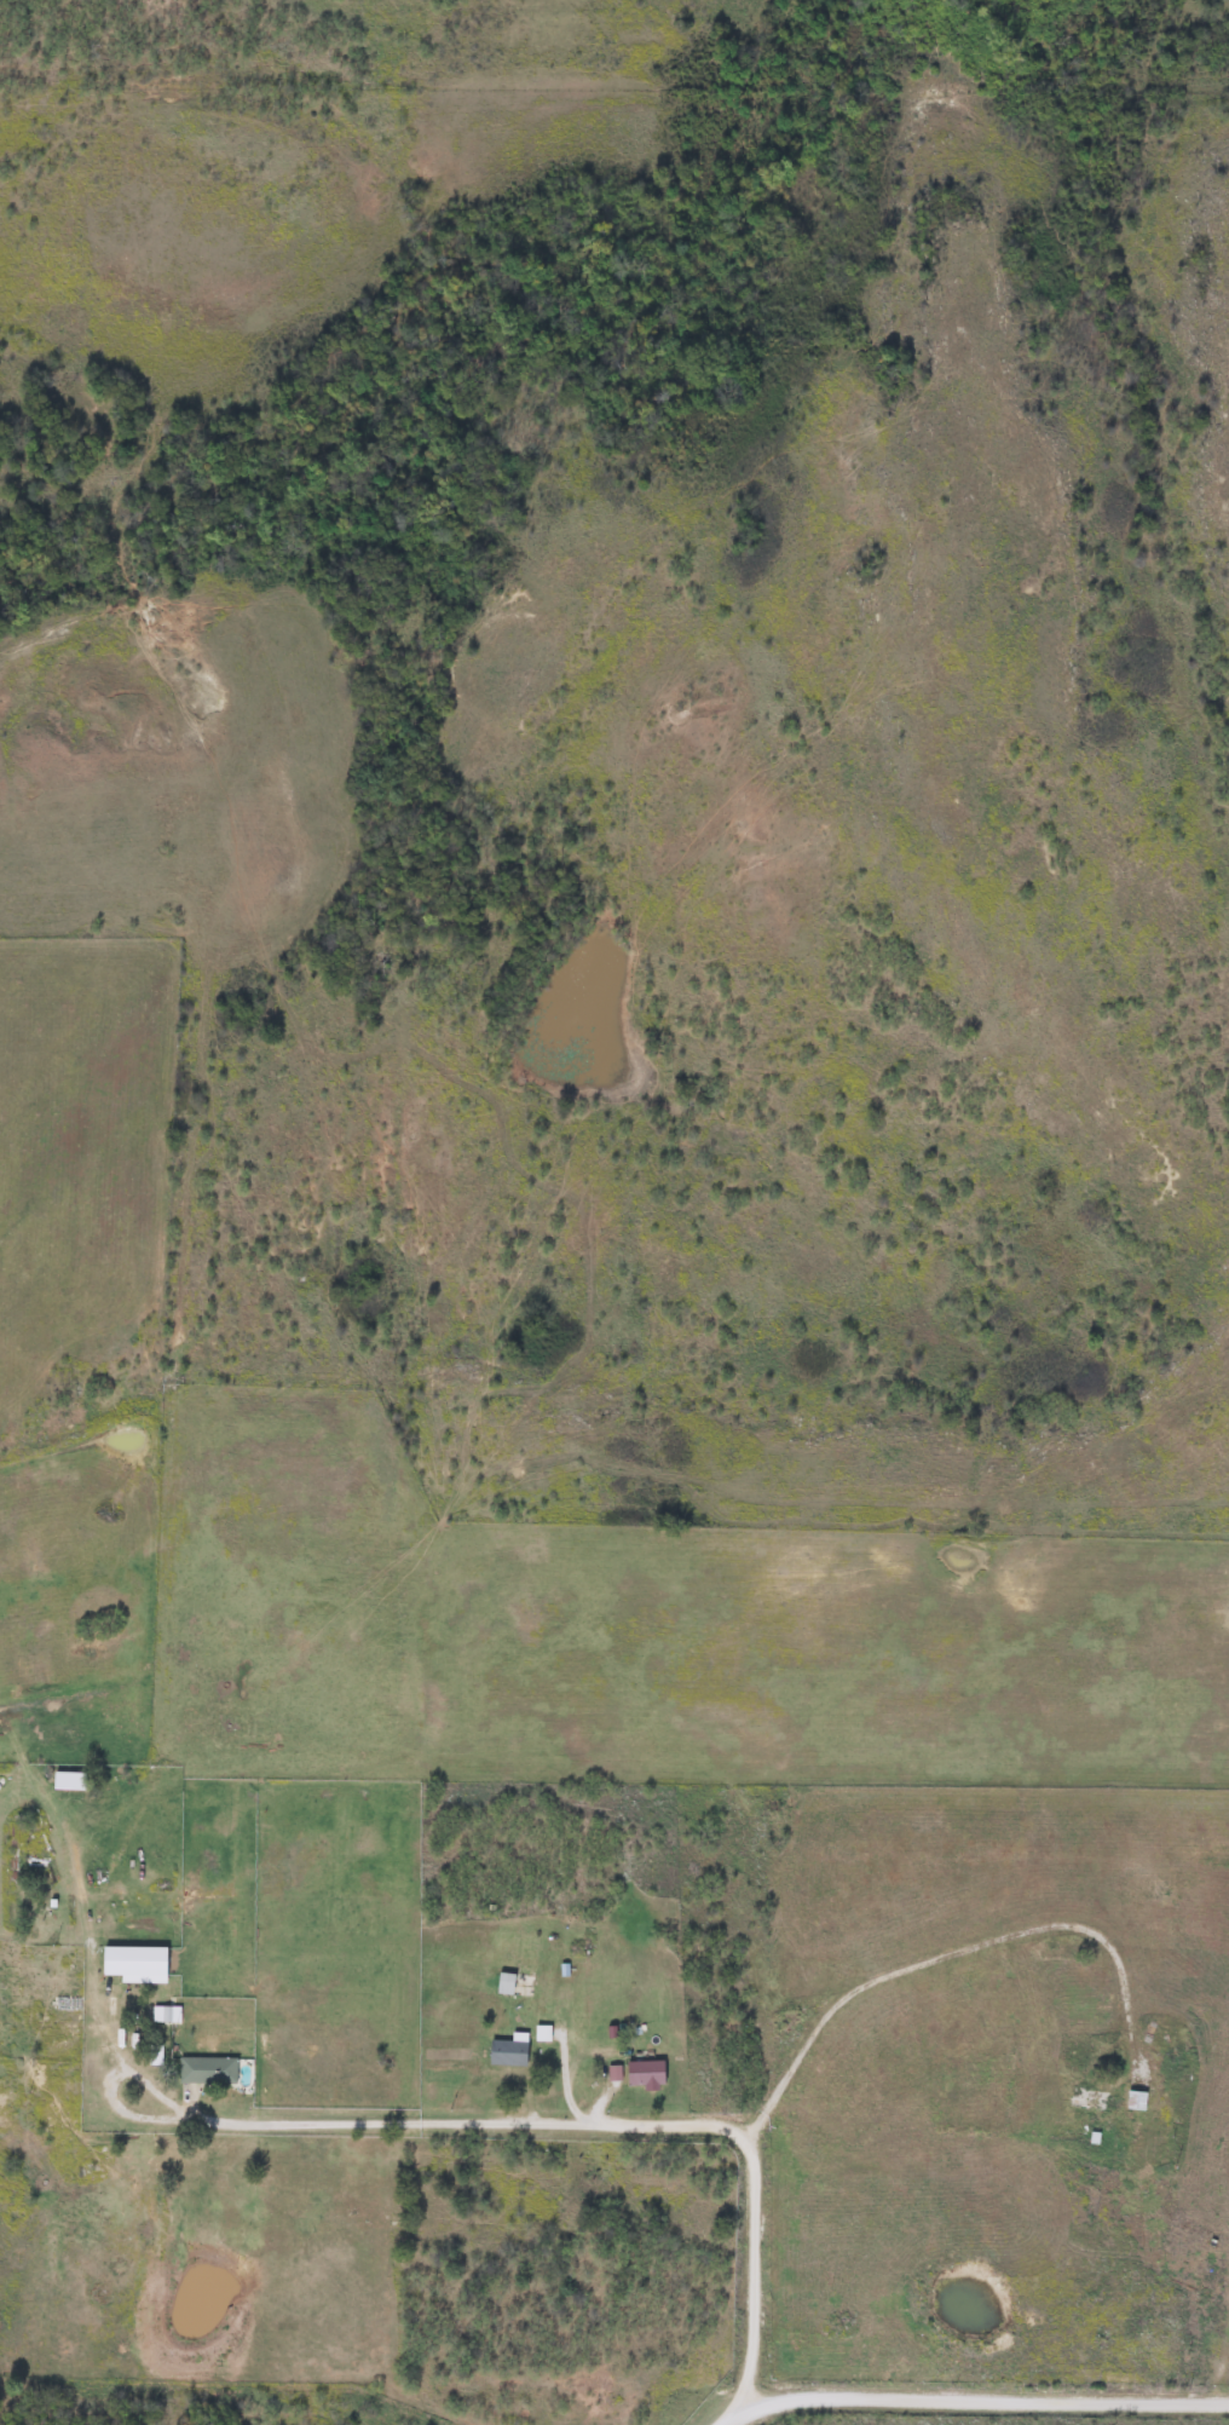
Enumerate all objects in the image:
building: (504, 1982)
building: (69, 2003)
building: (506, 2051)
building: (206, 2069)
building: (612, 2072)
building: (644, 2072)
building: (1086, 2098)
road: (644, 2124)
road: (976, 2401)

